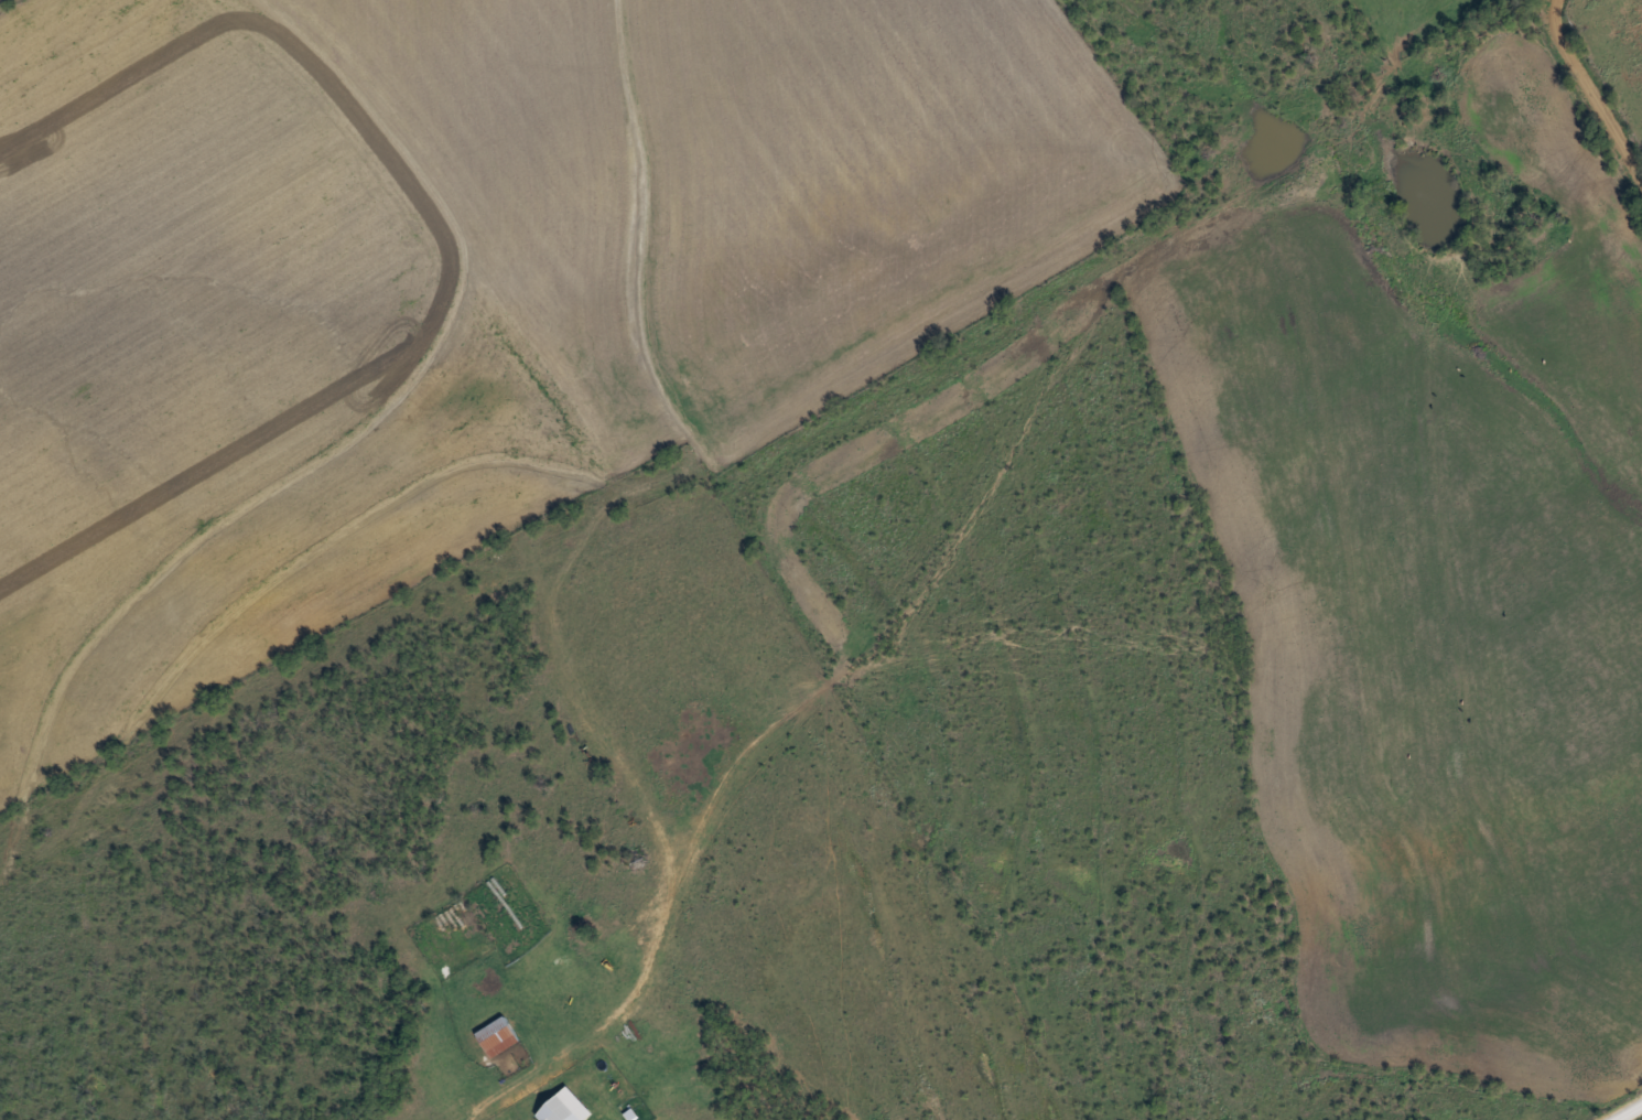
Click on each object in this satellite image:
road: (1588, 95)
building: (1547, 680)
building: (498, 1035)
building: (568, 1102)
road: (1620, 1107)

